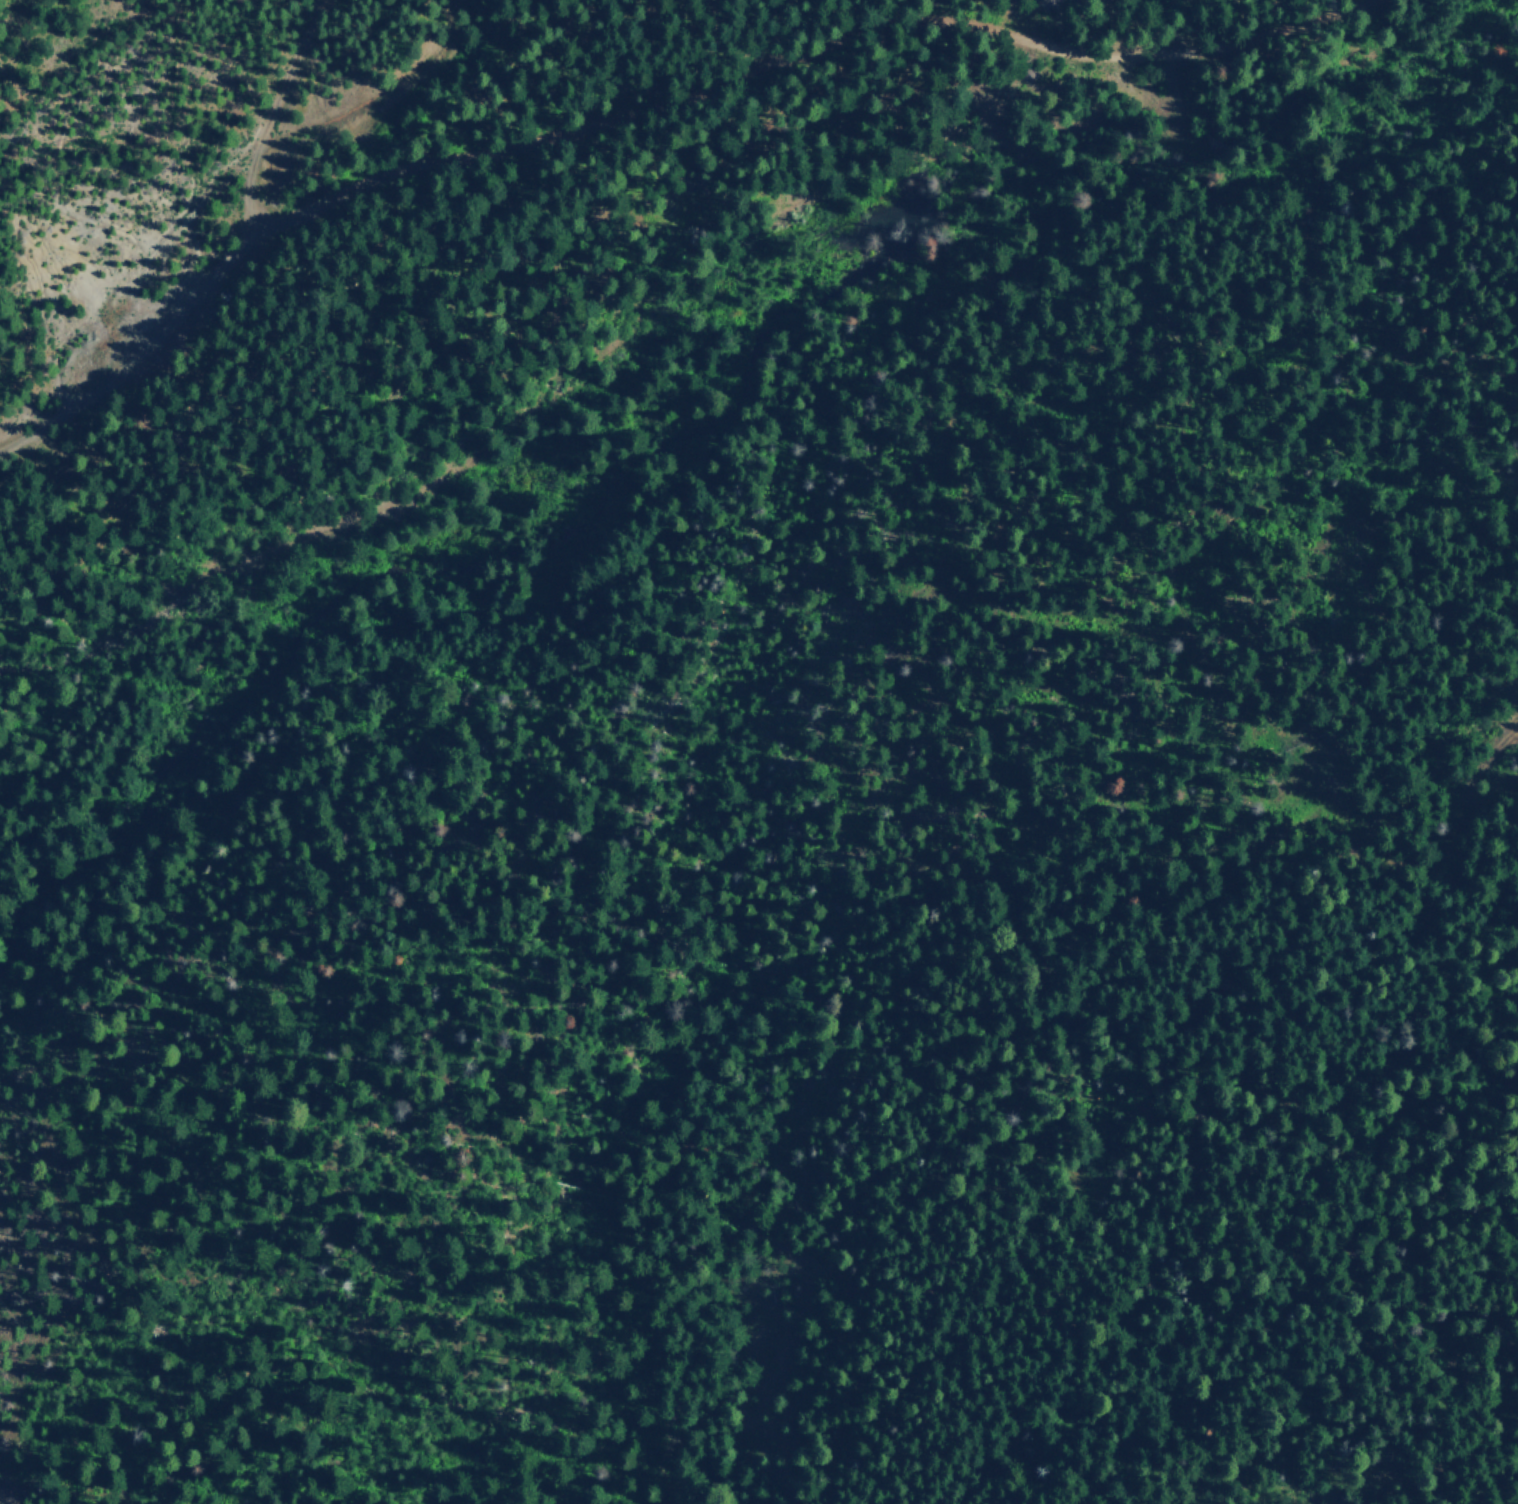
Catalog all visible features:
road: (271, 113)
road: (582, 121)

